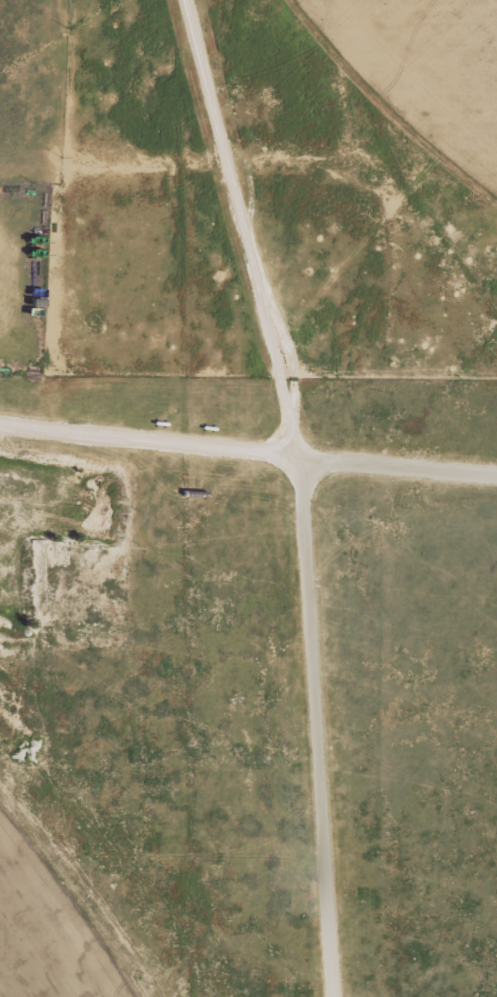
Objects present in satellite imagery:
crop: (448, 49)
road: (291, 317)
road: (319, 727)
crop: (30, 956)

